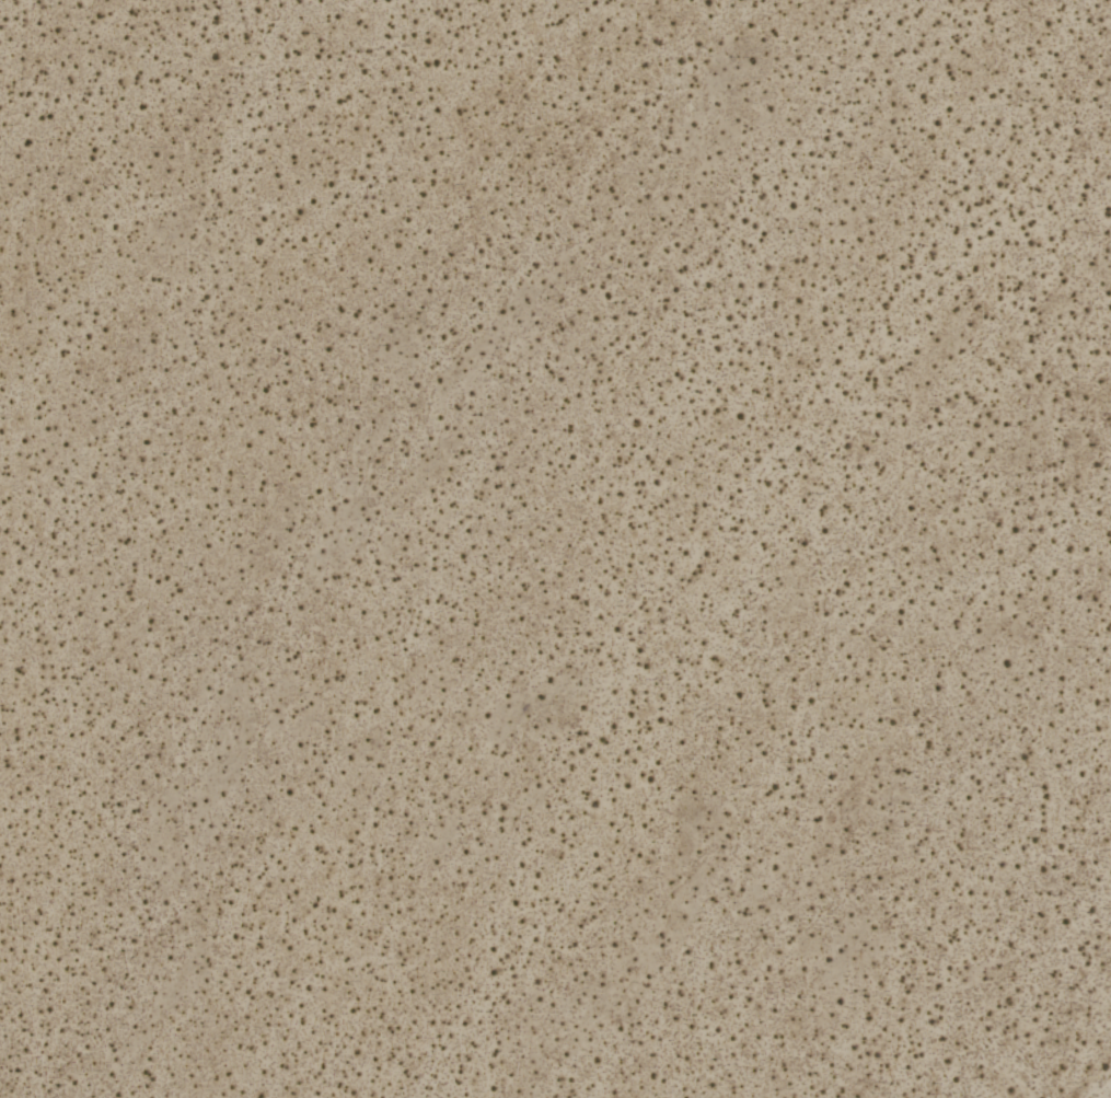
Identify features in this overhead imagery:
airport: (555, 548)

